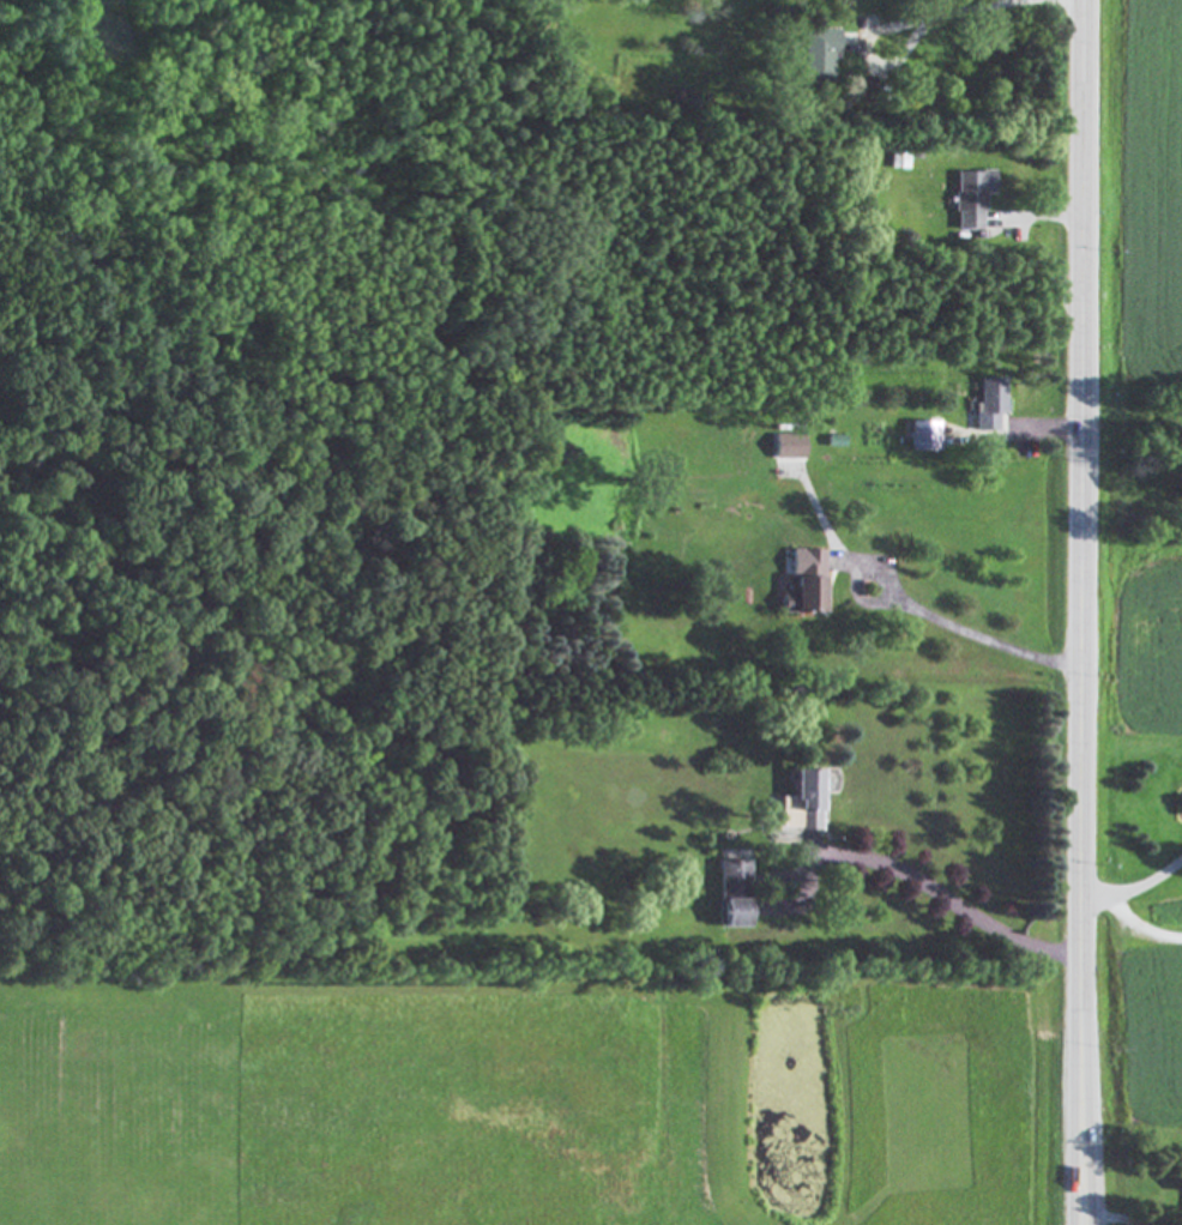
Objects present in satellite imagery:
road: (953, 16)
building: (816, 56)
building: (683, 101)
building: (970, 199)
building: (988, 403)
building: (921, 436)
building: (788, 447)
building: (803, 584)
road: (1080, 608)
road: (978, 632)
building: (798, 803)
road: (1134, 887)
building: (730, 895)
road: (948, 904)
road: (1140, 927)
road: (1116, 1217)
road: (1080, 1220)
road: (1083, 1220)

